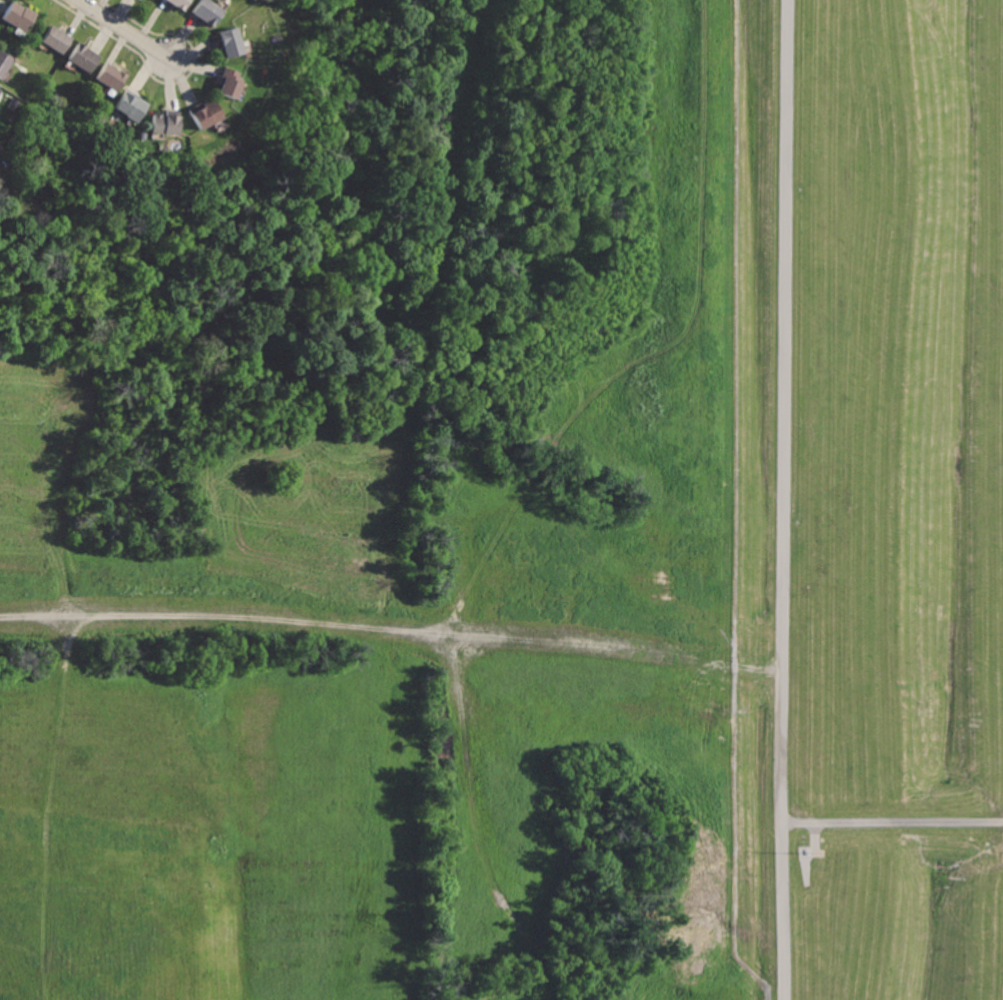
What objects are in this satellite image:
building: (182, 4)
building: (210, 11)
building: (21, 15)
road: (124, 30)
building: (59, 40)
building: (233, 43)
building: (86, 58)
building: (5, 63)
building: (112, 78)
building: (233, 83)
building: (0, 92)
building: (133, 107)
building: (208, 115)
building: (168, 124)
road: (783, 338)
airport: (870, 498)
road: (324, 628)
road: (892, 820)
road: (780, 838)

